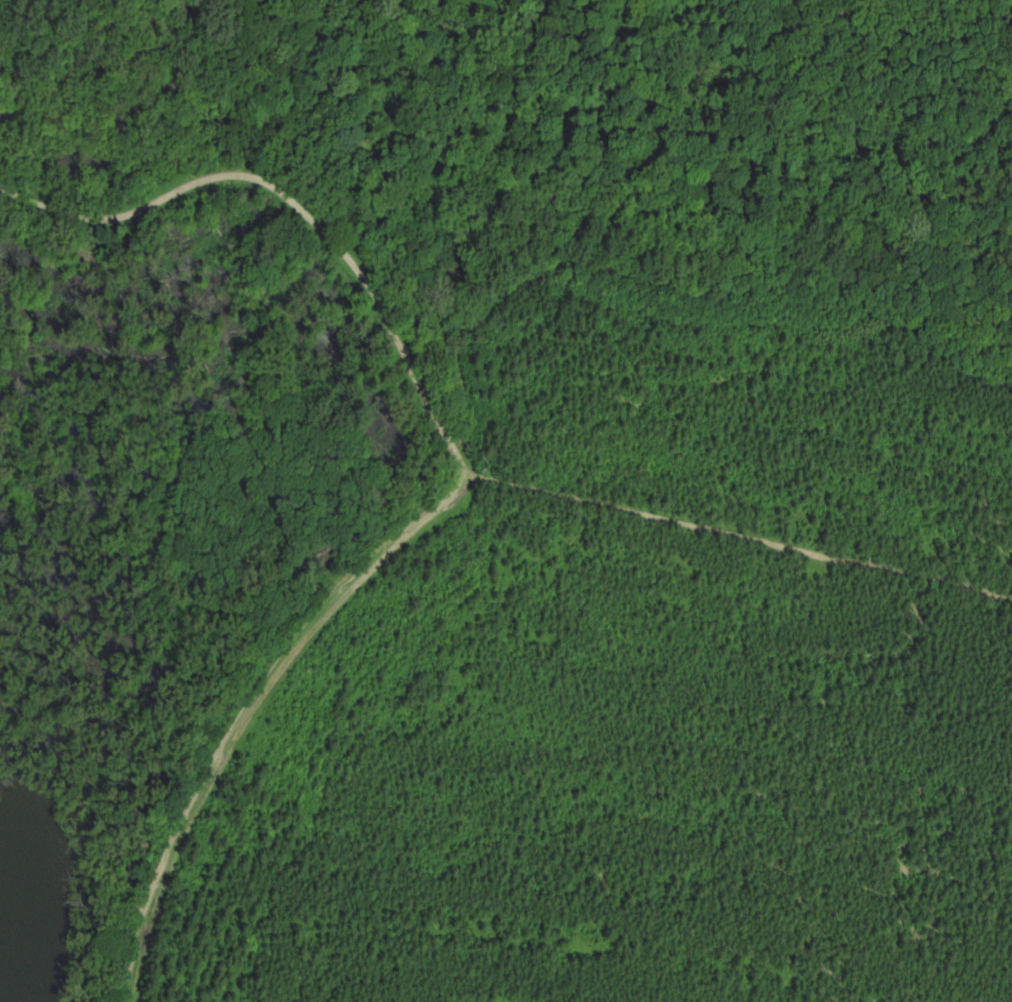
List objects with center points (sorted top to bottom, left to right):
road: (449, 438)
road: (249, 708)

